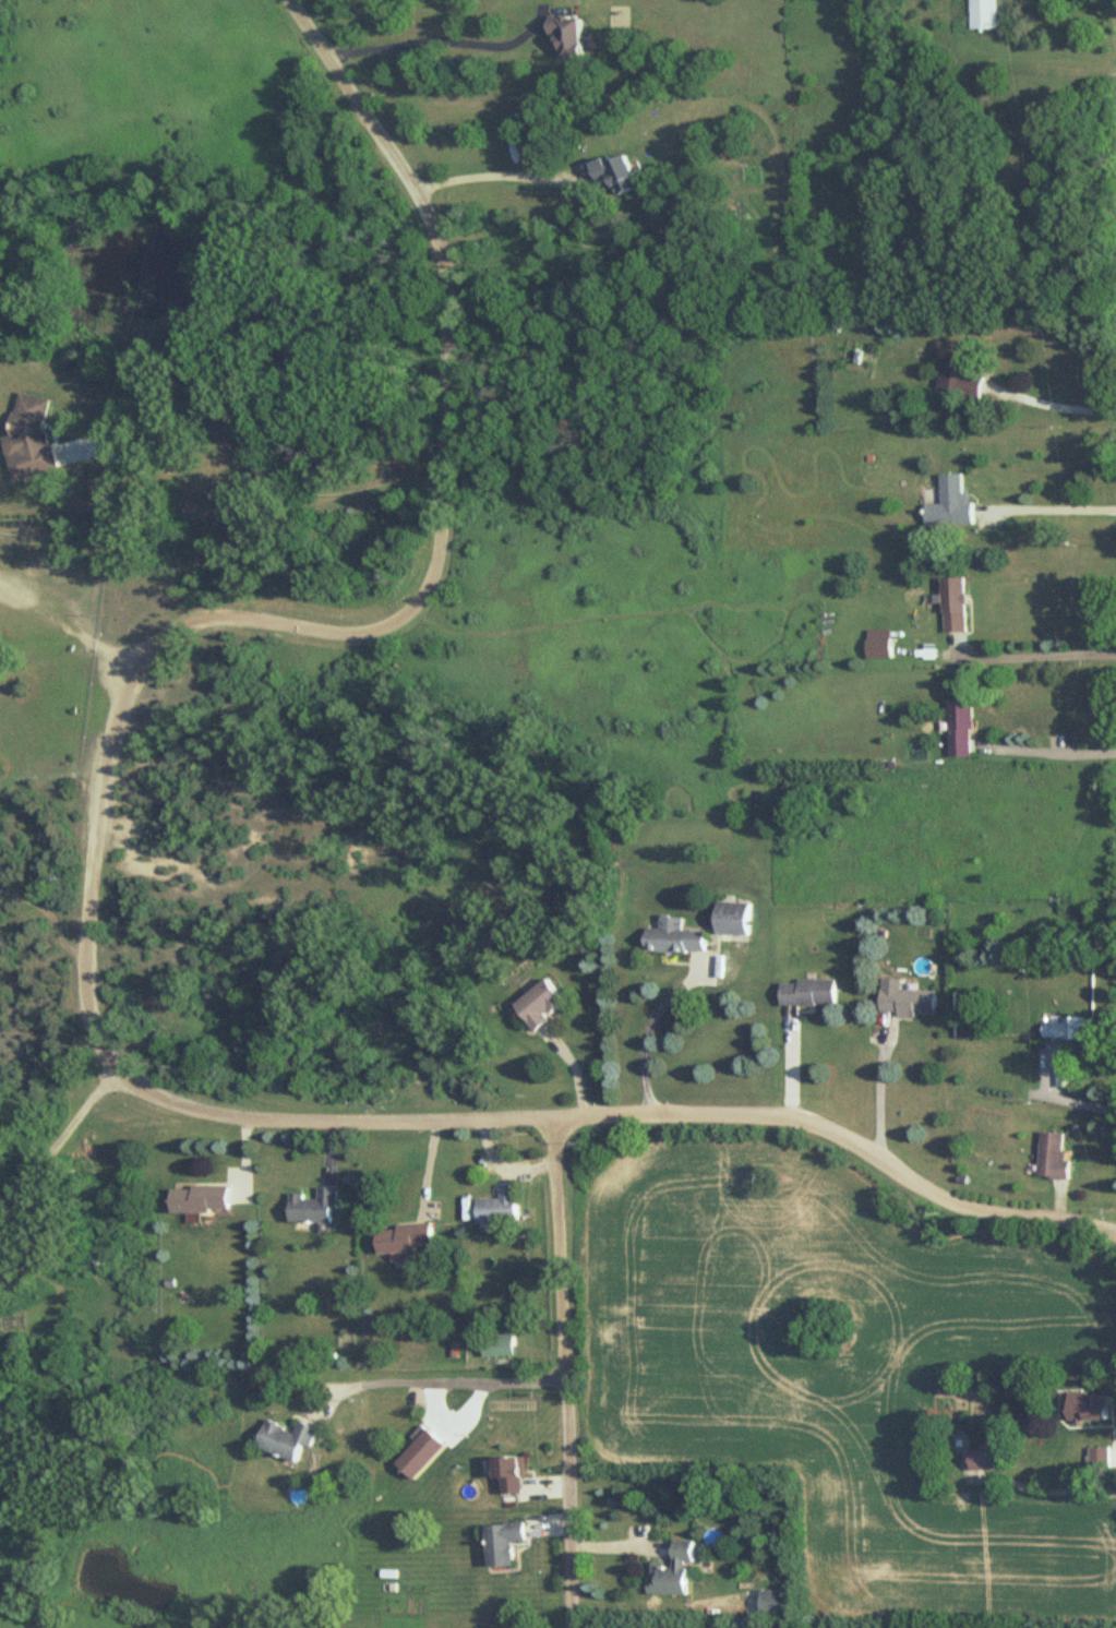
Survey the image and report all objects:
road: (542, 13)
building: (983, 14)
building: (573, 34)
road: (441, 39)
building: (624, 173)
road: (497, 175)
road: (591, 175)
building: (960, 374)
road: (1057, 408)
building: (33, 439)
road: (444, 450)
road: (251, 484)
building: (953, 504)
road: (1048, 508)
building: (961, 606)
building: (883, 646)
road: (1029, 657)
building: (963, 729)
road: (1054, 751)
building: (736, 918)
building: (677, 937)
building: (812, 992)
building: (913, 1002)
building: (542, 1004)
building: (1076, 1028)
road: (647, 1032)
building: (1066, 1077)
road: (1058, 1097)
road: (883, 1098)
road: (341, 1115)
road: (57, 1140)
building: (1057, 1156)
building: (203, 1198)
building: (502, 1205)
building: (316, 1206)
building: (408, 1237)
building: (499, 1344)
road: (561, 1373)
road: (437, 1380)
building: (1092, 1405)
building: (292, 1439)
building: (423, 1453)
building: (986, 1458)
building: (516, 1475)
building: (1, 1495)
building: (506, 1543)
building: (676, 1570)
building: (777, 1602)

